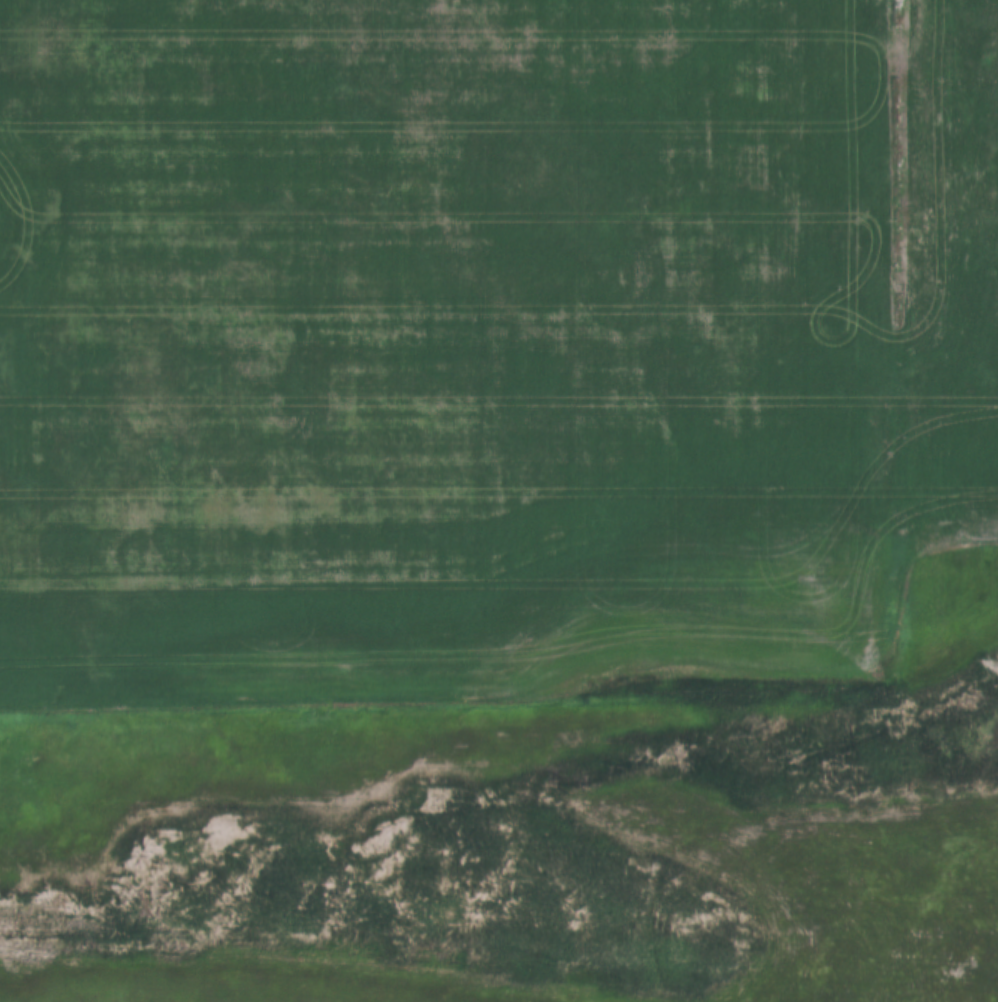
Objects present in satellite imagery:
crop: (442, 342)

